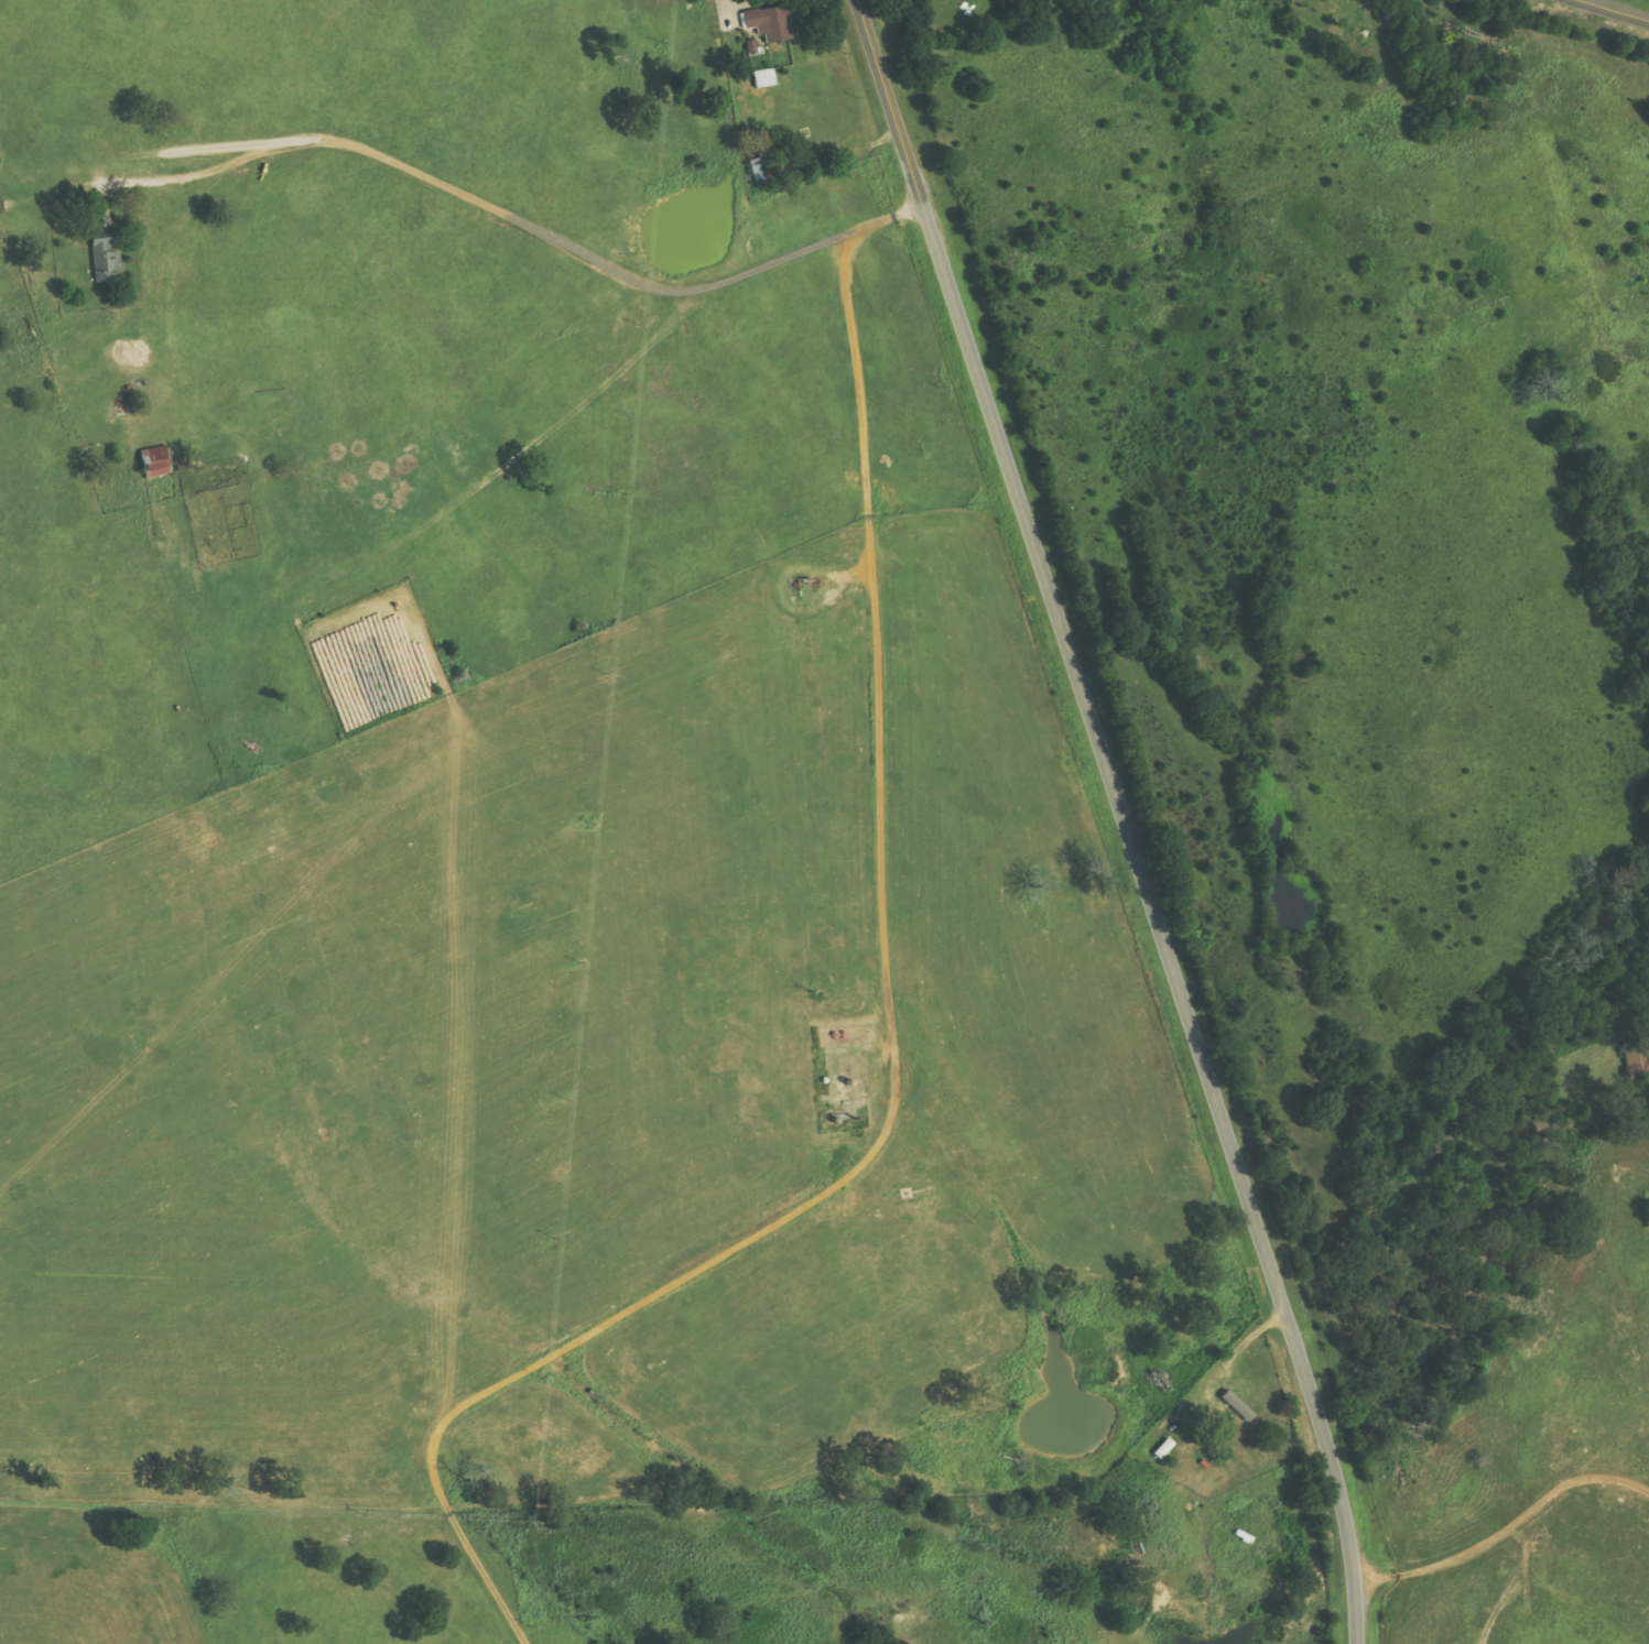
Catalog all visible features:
road: (1615, 10)
building: (771, 23)
building: (764, 78)
building: (763, 172)
road: (432, 179)
building: (106, 259)
building: (156, 461)
road: (1125, 818)
road: (890, 1036)
building: (1638, 1066)
building: (1238, 1405)

